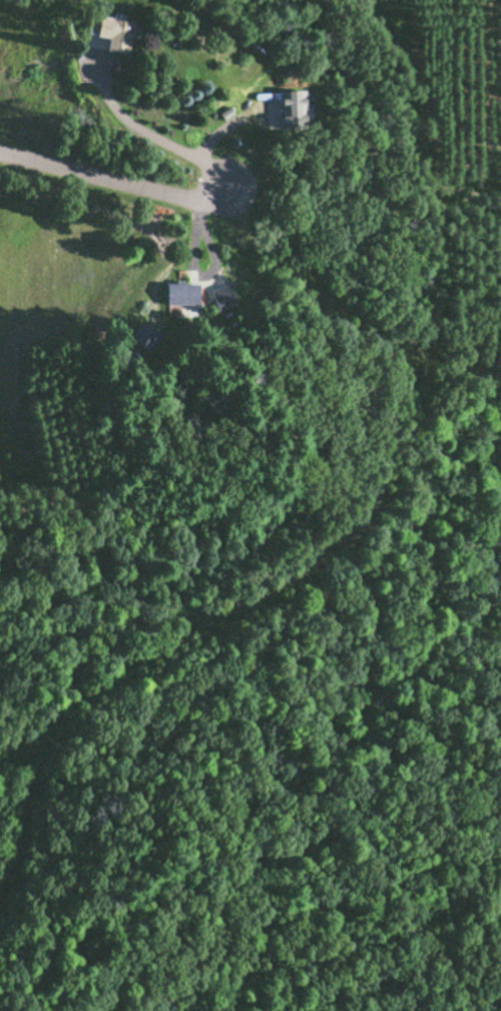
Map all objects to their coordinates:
building: (109, 32)
building: (284, 109)
road: (147, 130)
road: (112, 177)
building: (179, 293)

